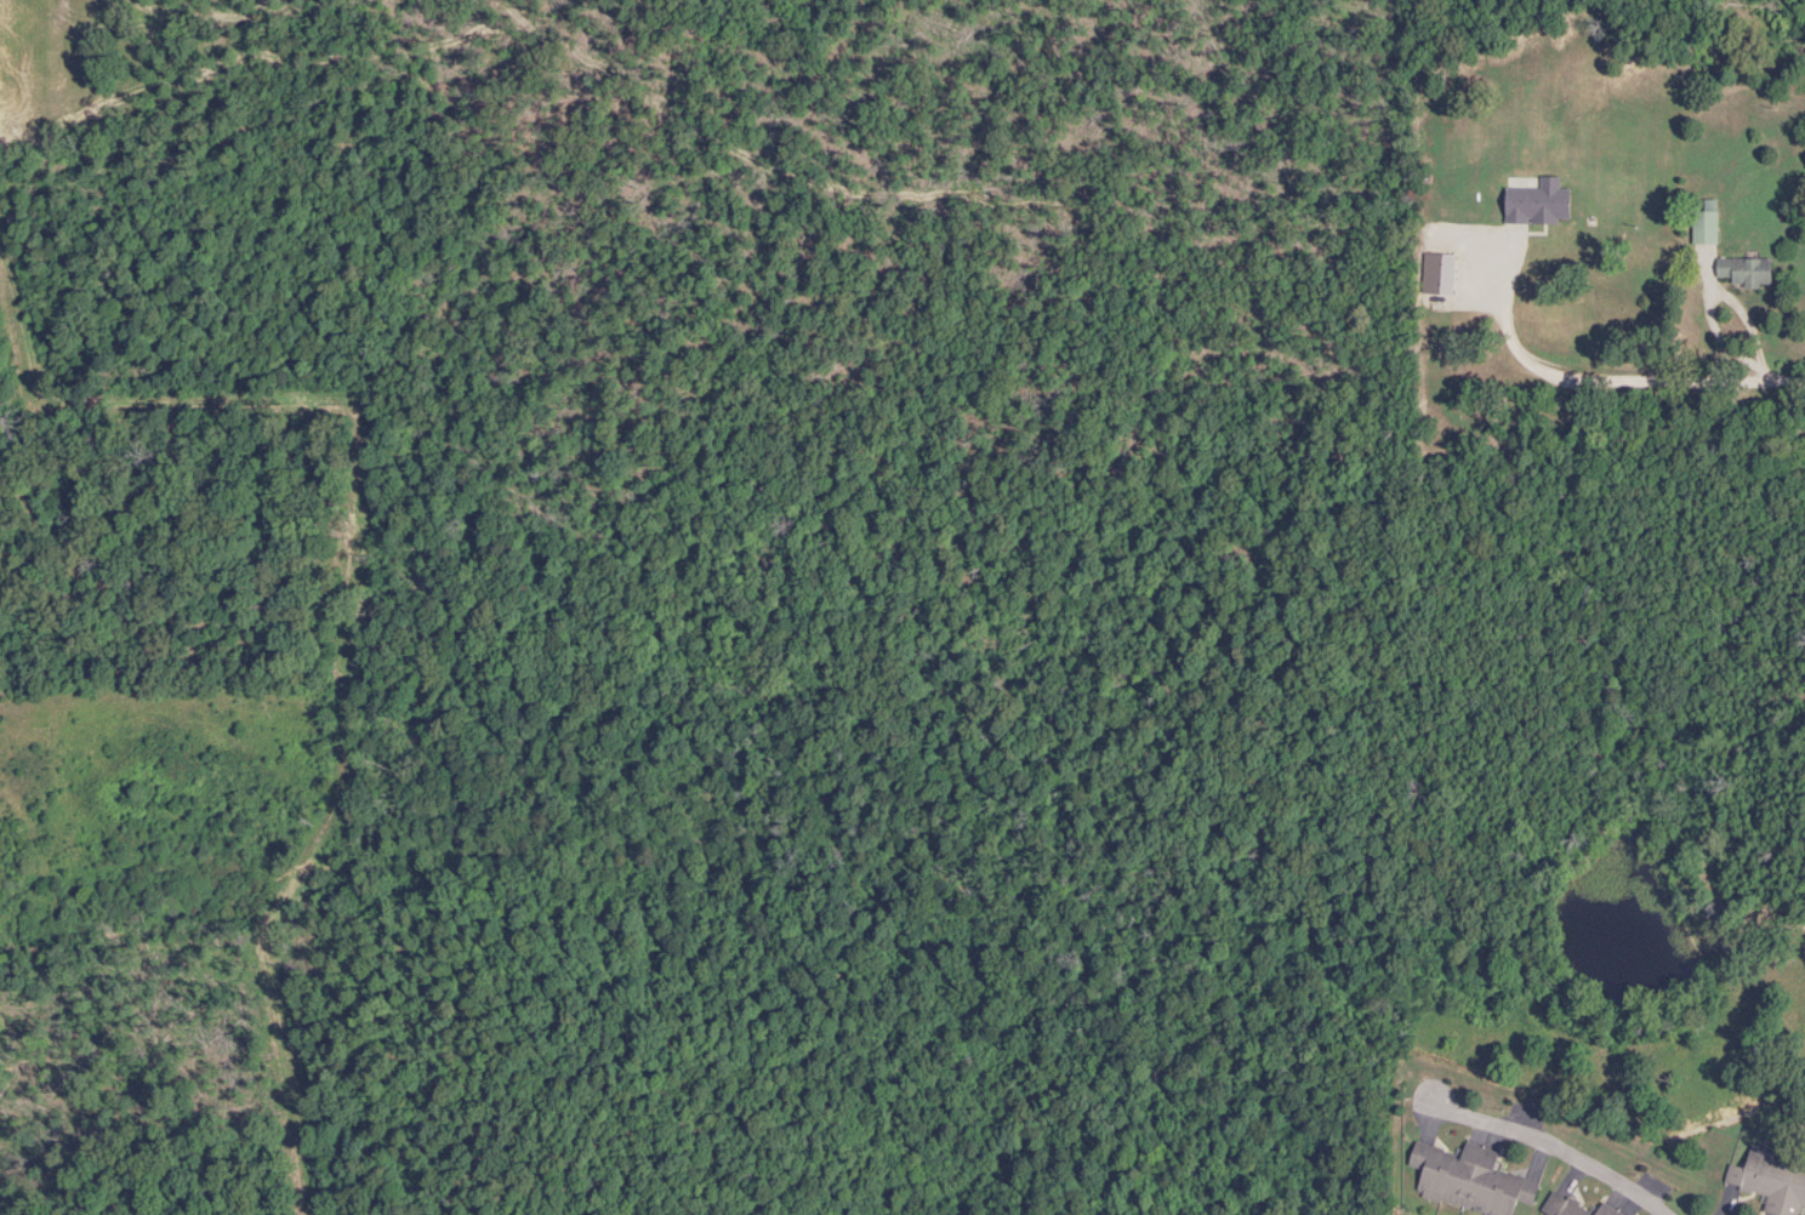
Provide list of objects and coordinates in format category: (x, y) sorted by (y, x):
building: (1568, 146)
building: (1703, 226)
building: (1743, 272)
road: (1640, 383)
road: (1550, 1146)
building: (1771, 1180)
building: (1468, 1181)
building: (1560, 1207)
building: (1604, 1210)

